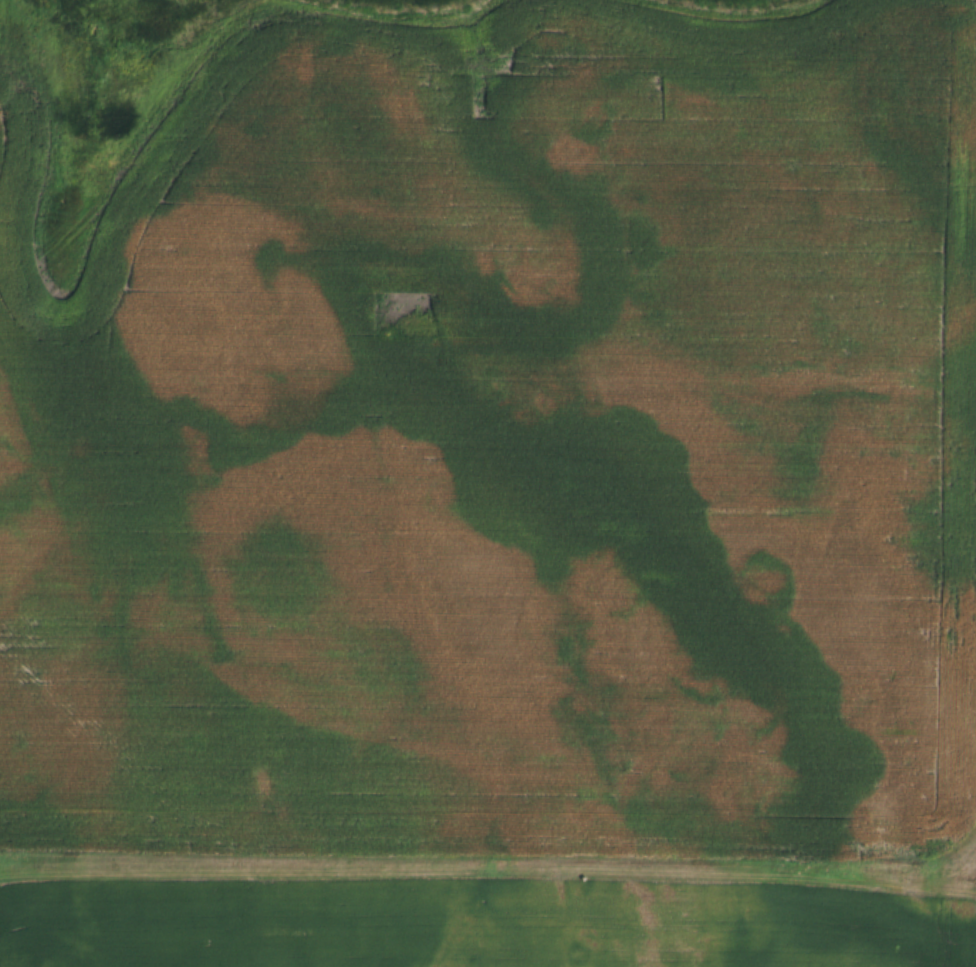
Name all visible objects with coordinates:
road: (488, 874)

